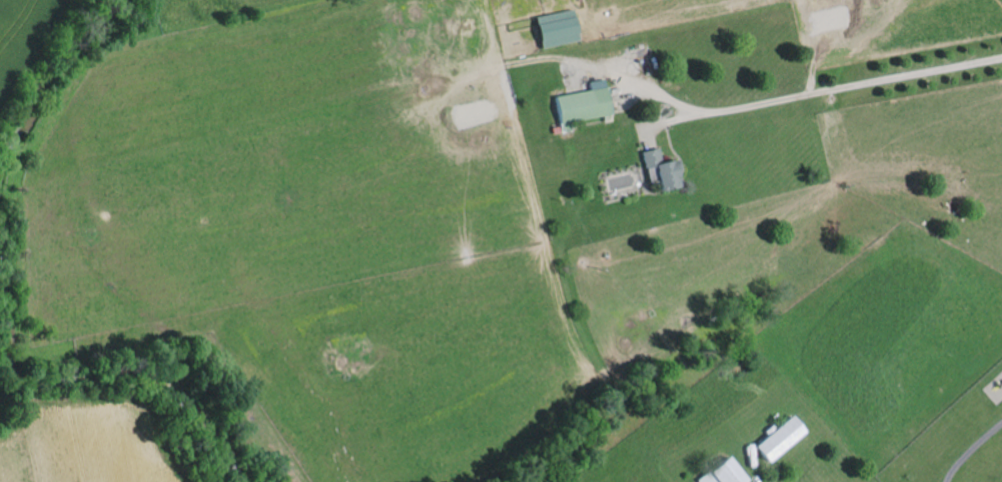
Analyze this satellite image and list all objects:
building: (557, 28)
building: (582, 104)
building: (658, 169)
building: (776, 439)
building: (720, 473)

